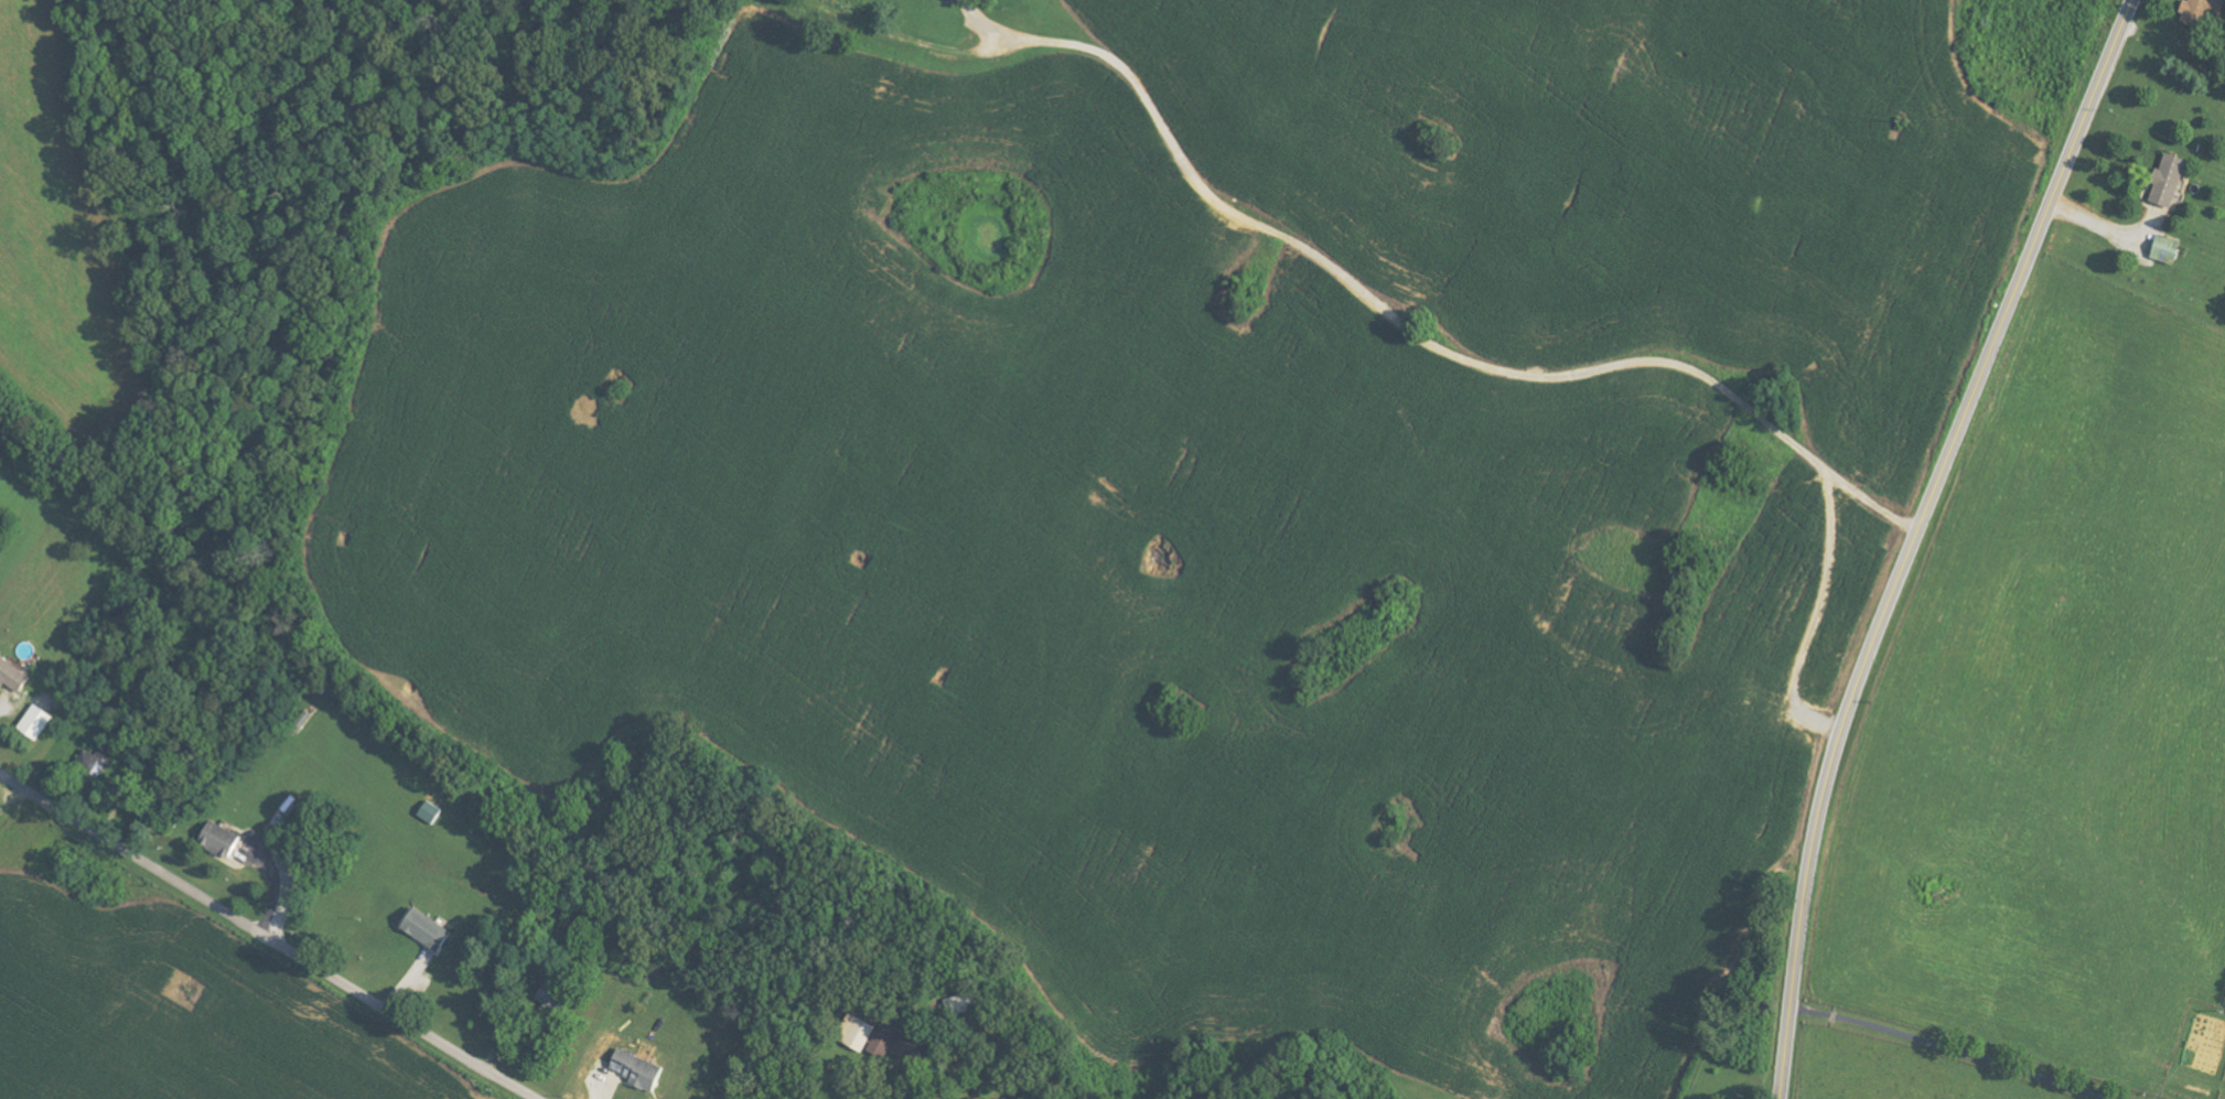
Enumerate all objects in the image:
building: (2162, 179)
road: (2098, 226)
building: (2160, 248)
road: (1409, 326)
building: (3, 433)
road: (1913, 537)
road: (1817, 614)
building: (13, 676)
building: (36, 722)
road: (13, 799)
building: (223, 838)
building: (429, 929)
road: (266, 936)
building: (967, 1003)
building: (862, 1033)
building: (885, 1042)
road: (1948, 1047)
building: (639, 1068)

